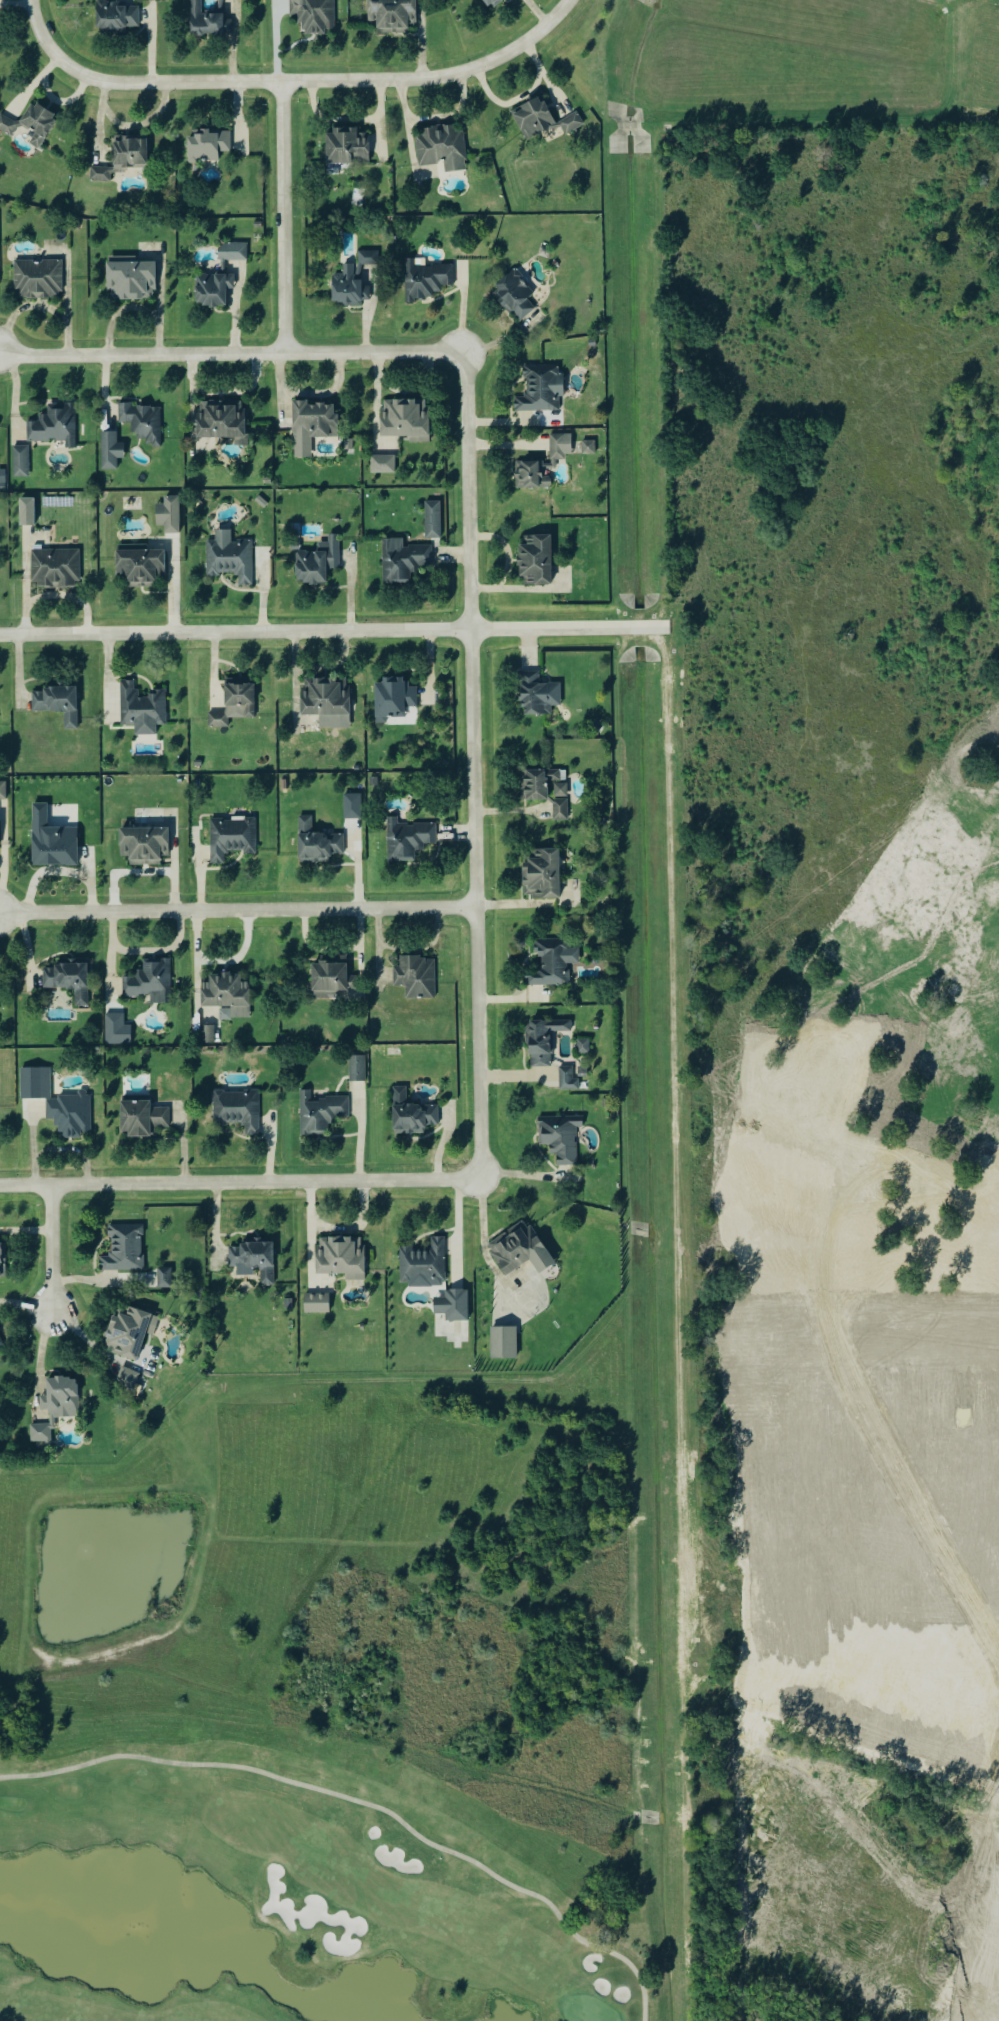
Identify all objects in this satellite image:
building: (490, 3)
building: (311, 16)
building: (389, 16)
building: (114, 17)
building: (204, 21)
road: (37, 24)
road: (317, 82)
building: (539, 121)
building: (30, 125)
building: (204, 146)
building: (344, 147)
building: (439, 148)
building: (120, 159)
road: (286, 219)
road: (881, 230)
building: (231, 251)
building: (35, 279)
building: (128, 280)
building: (424, 280)
building: (346, 288)
building: (210, 290)
building: (512, 296)
road: (762, 315)
road: (233, 355)
building: (538, 390)
road: (882, 401)
building: (402, 419)
building: (218, 420)
building: (140, 422)
building: (51, 426)
building: (314, 427)
building: (586, 449)
building: (109, 451)
building: (19, 462)
building: (382, 464)
building: (541, 465)
building: (2, 476)
building: (26, 511)
building: (167, 515)
building: (430, 521)
building: (226, 558)
building: (399, 561)
building: (533, 561)
building: (312, 565)
building: (138, 568)
building: (53, 569)
road: (965, 569)
road: (55, 596)
road: (716, 627)
road: (333, 633)
building: (534, 695)
building: (323, 697)
building: (390, 699)
building: (54, 704)
building: (232, 704)
building: (139, 709)
road: (768, 744)
road: (884, 744)
road: (475, 768)
building: (539, 785)
building: (3, 790)
building: (351, 806)
building: (557, 811)
building: (228, 838)
building: (405, 840)
building: (51, 842)
building: (314, 844)
building: (141, 846)
road: (357, 866)
building: (539, 874)
road: (1, 882)
road: (239, 911)
road: (889, 915)
road: (144, 953)
road: (219, 962)
building: (547, 964)
building: (413, 977)
building: (328, 978)
building: (65, 980)
building: (147, 982)
building: (223, 992)
building: (116, 1031)
building: (207, 1035)
building: (540, 1041)
building: (583, 1046)
building: (354, 1069)
building: (564, 1079)
road: (888, 1086)
building: (234, 1110)
building: (317, 1114)
building: (67, 1115)
building: (409, 1115)
building: (139, 1120)
building: (557, 1137)
road: (360, 1138)
road: (775, 1179)
road: (241, 1184)
road: (337, 1229)
road: (480, 1229)
building: (121, 1249)
building: (515, 1249)
road: (53, 1250)
building: (337, 1256)
road: (973, 1256)
building: (250, 1261)
building: (1, 1262)
building: (421, 1263)
building: (163, 1278)
building: (316, 1303)
building: (452, 1306)
building: (127, 1332)
building: (502, 1344)
road: (38, 1357)
building: (124, 1380)
building: (58, 1398)
building: (38, 1433)
park: (278, 1889)

